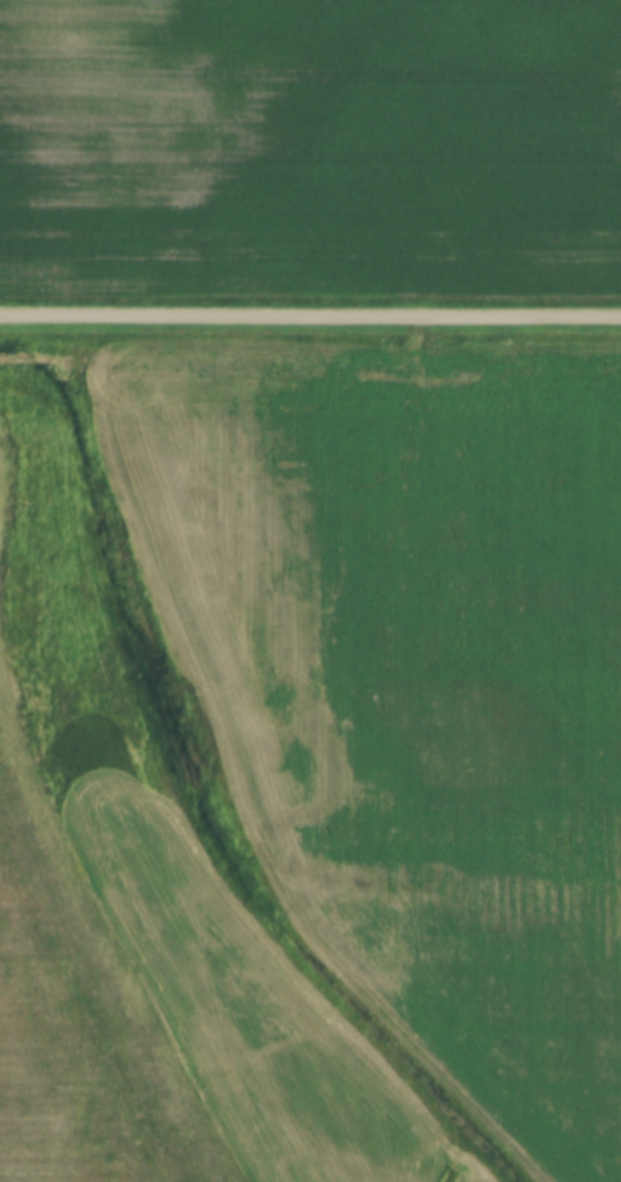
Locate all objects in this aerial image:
road: (310, 316)

